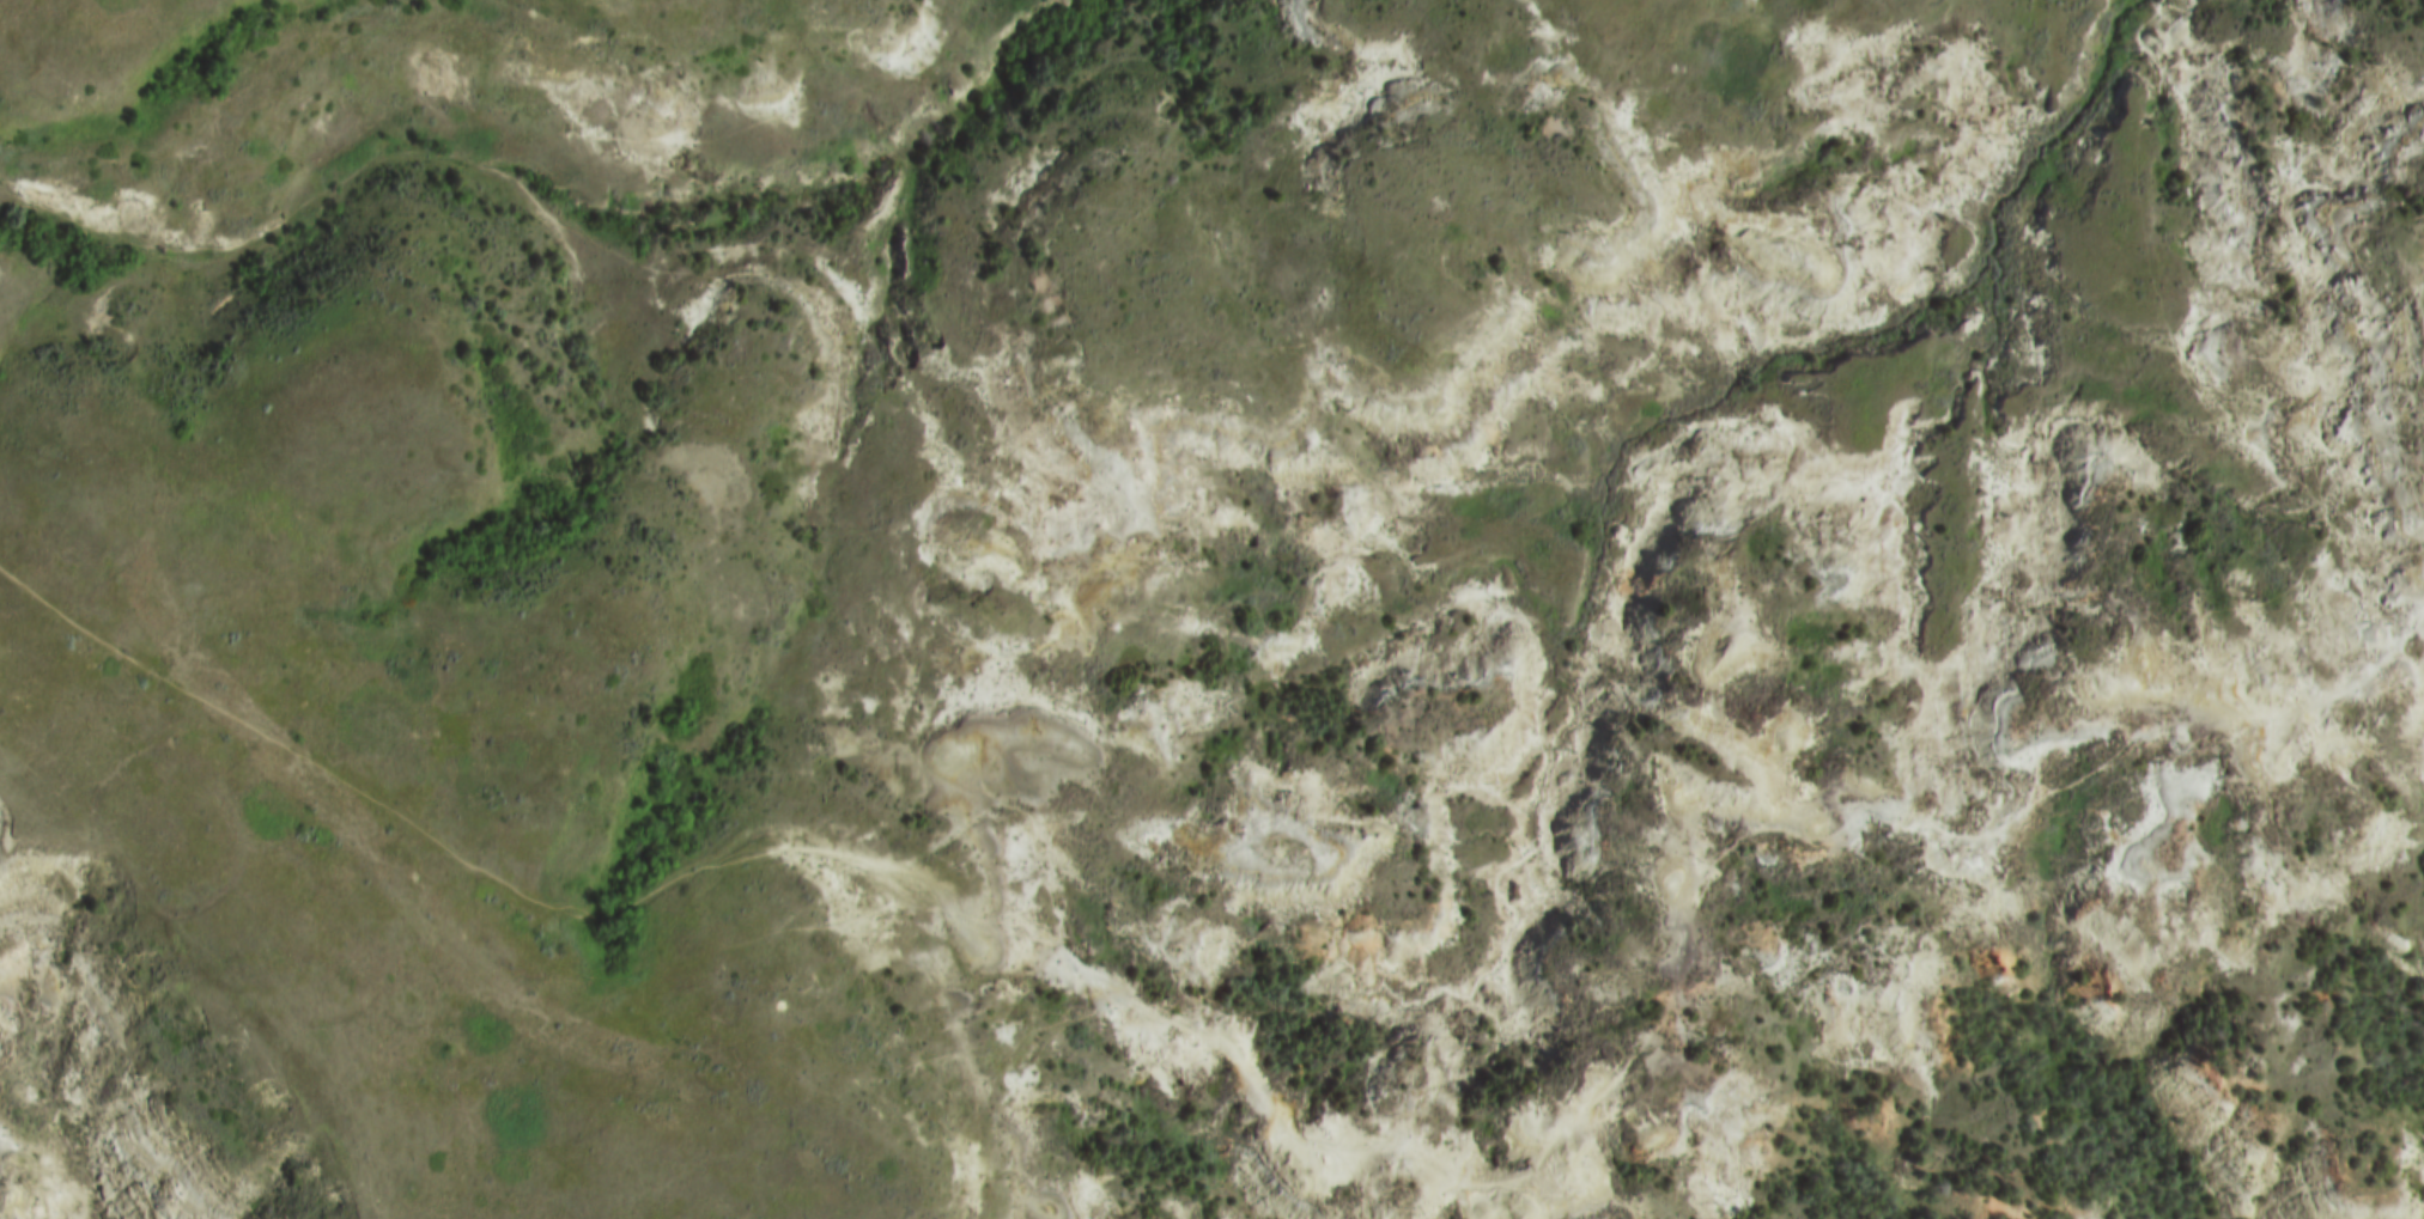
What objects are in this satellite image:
road: (1238, 1061)

